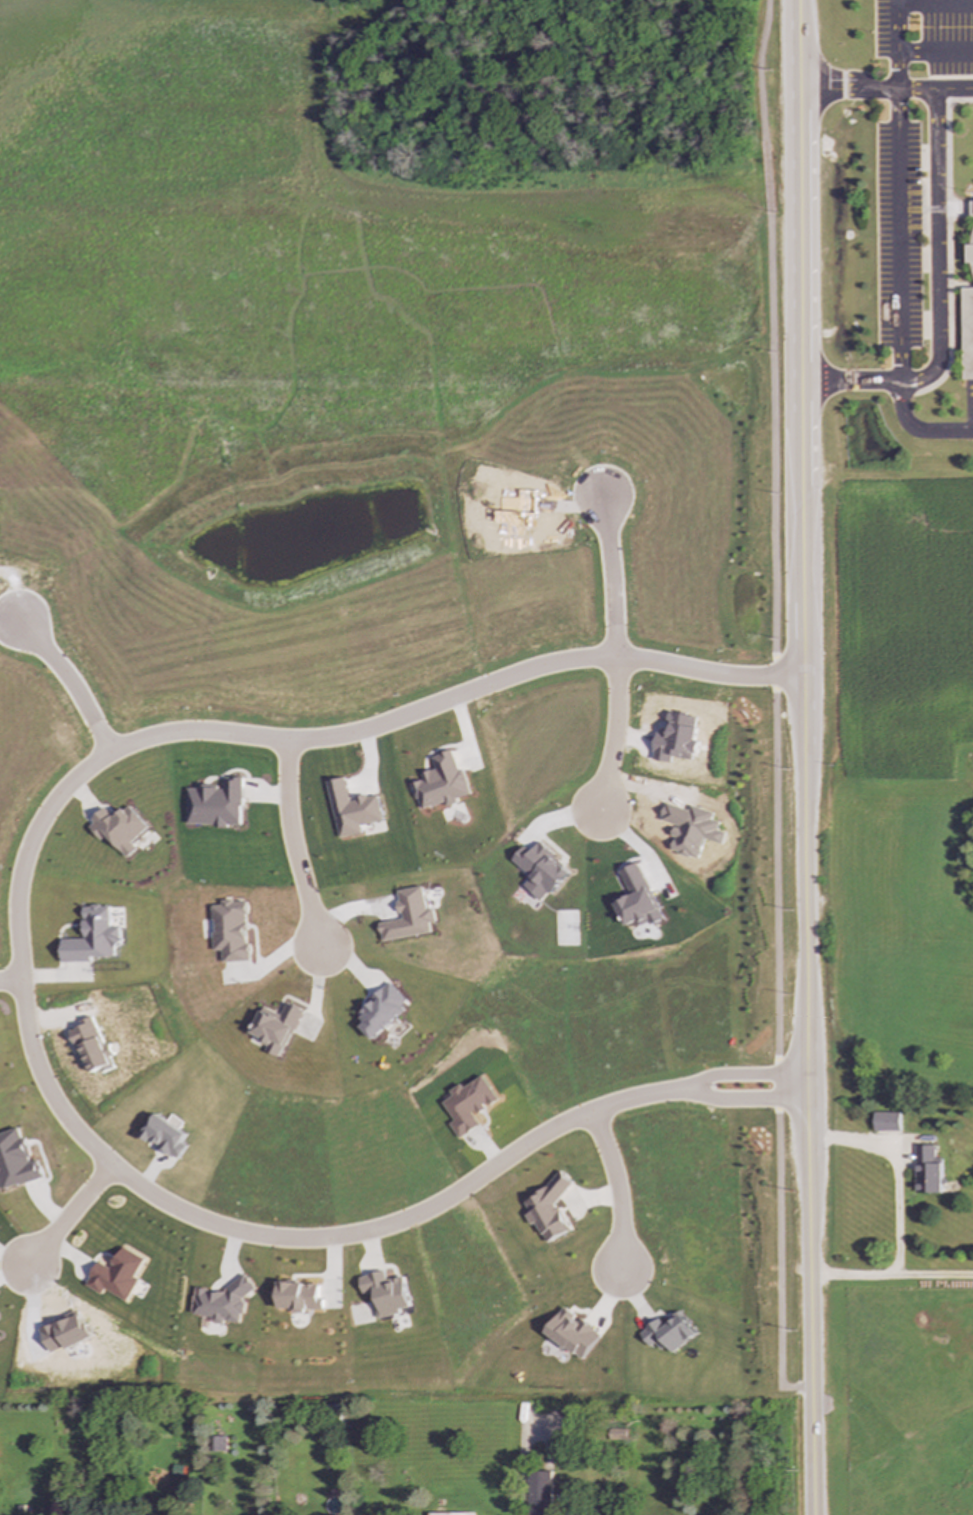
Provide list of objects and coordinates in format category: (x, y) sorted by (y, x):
road: (897, 12)
road: (934, 52)
road: (954, 90)
crop: (326, 210)
road: (936, 229)
road: (896, 236)
building: (968, 333)
road: (919, 429)
road: (615, 660)
road: (71, 683)
road: (774, 708)
road: (320, 743)
road: (803, 757)
building: (442, 782)
building: (216, 804)
building: (352, 809)
building: (120, 829)
road: (294, 853)
building: (541, 870)
building: (637, 899)
building: (407, 916)
building: (229, 931)
building: (92, 937)
building: (380, 1010)
building: (275, 1028)
building: (92, 1047)
road: (696, 1090)
building: (468, 1105)
building: (887, 1121)
building: (165, 1136)
road: (73, 1138)
building: (16, 1161)
building: (927, 1170)
road: (896, 1172)
building: (548, 1208)
road: (428, 1213)
building: (116, 1275)
road: (891, 1278)
building: (384, 1293)
building: (299, 1297)
building: (221, 1303)
building: (572, 1333)
building: (668, 1333)
building: (219, 1443)
building: (540, 1493)
building: (451, 1514)

